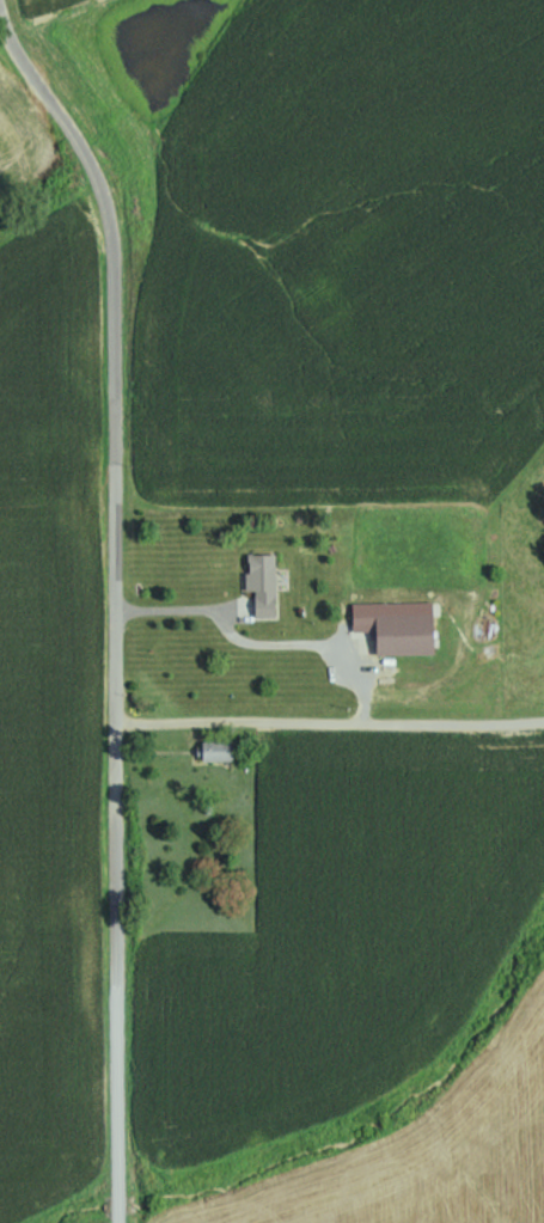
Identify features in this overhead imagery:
building: (262, 583)
road: (122, 594)
building: (403, 634)
road: (332, 721)
building: (215, 750)

